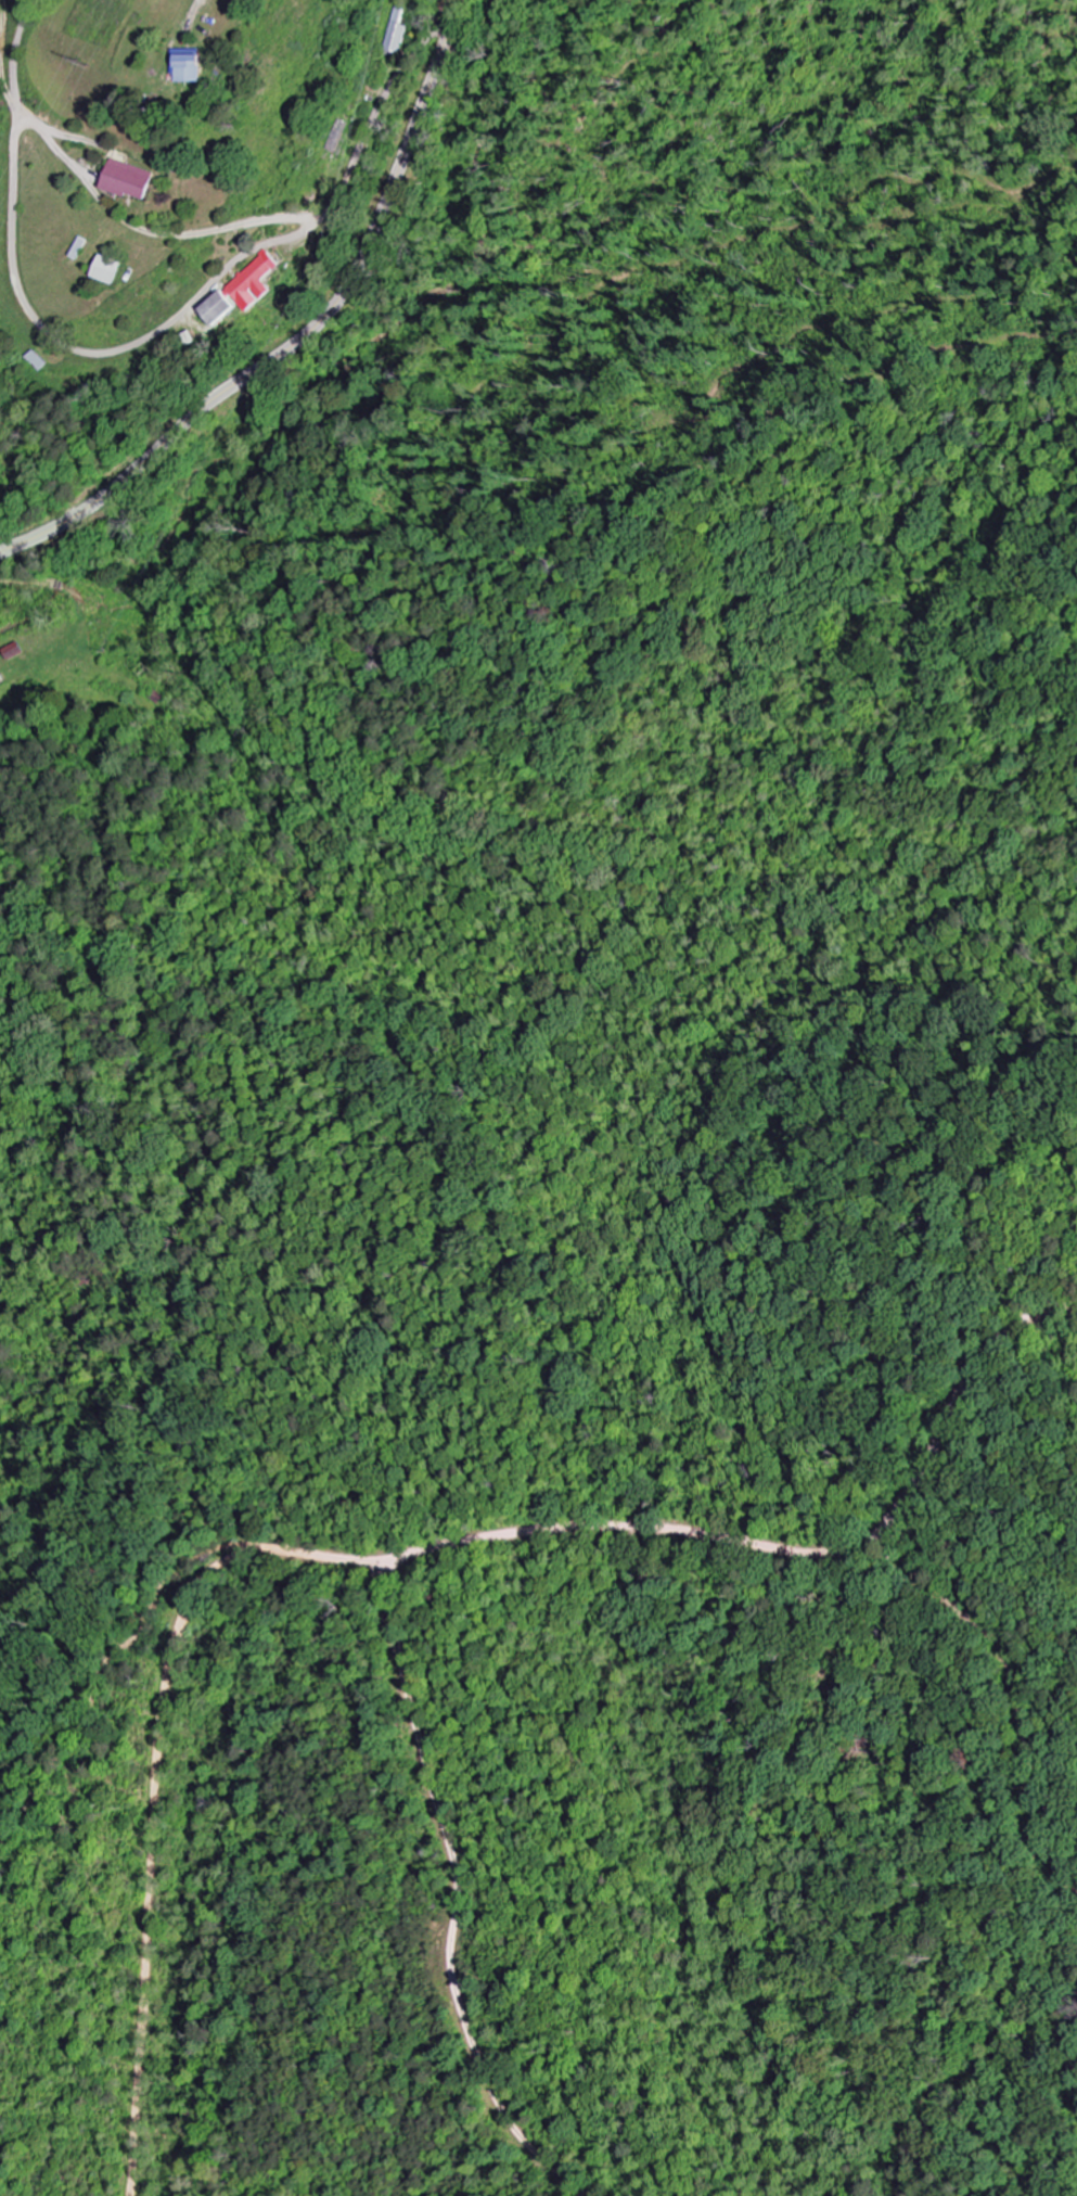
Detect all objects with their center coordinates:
building: (392, 34)
building: (191, 67)
building: (133, 180)
building: (113, 270)
building: (245, 292)
road: (48, 331)
road: (304, 339)
road: (579, 1529)
road: (415, 1662)
road: (141, 1996)
road: (453, 2000)

